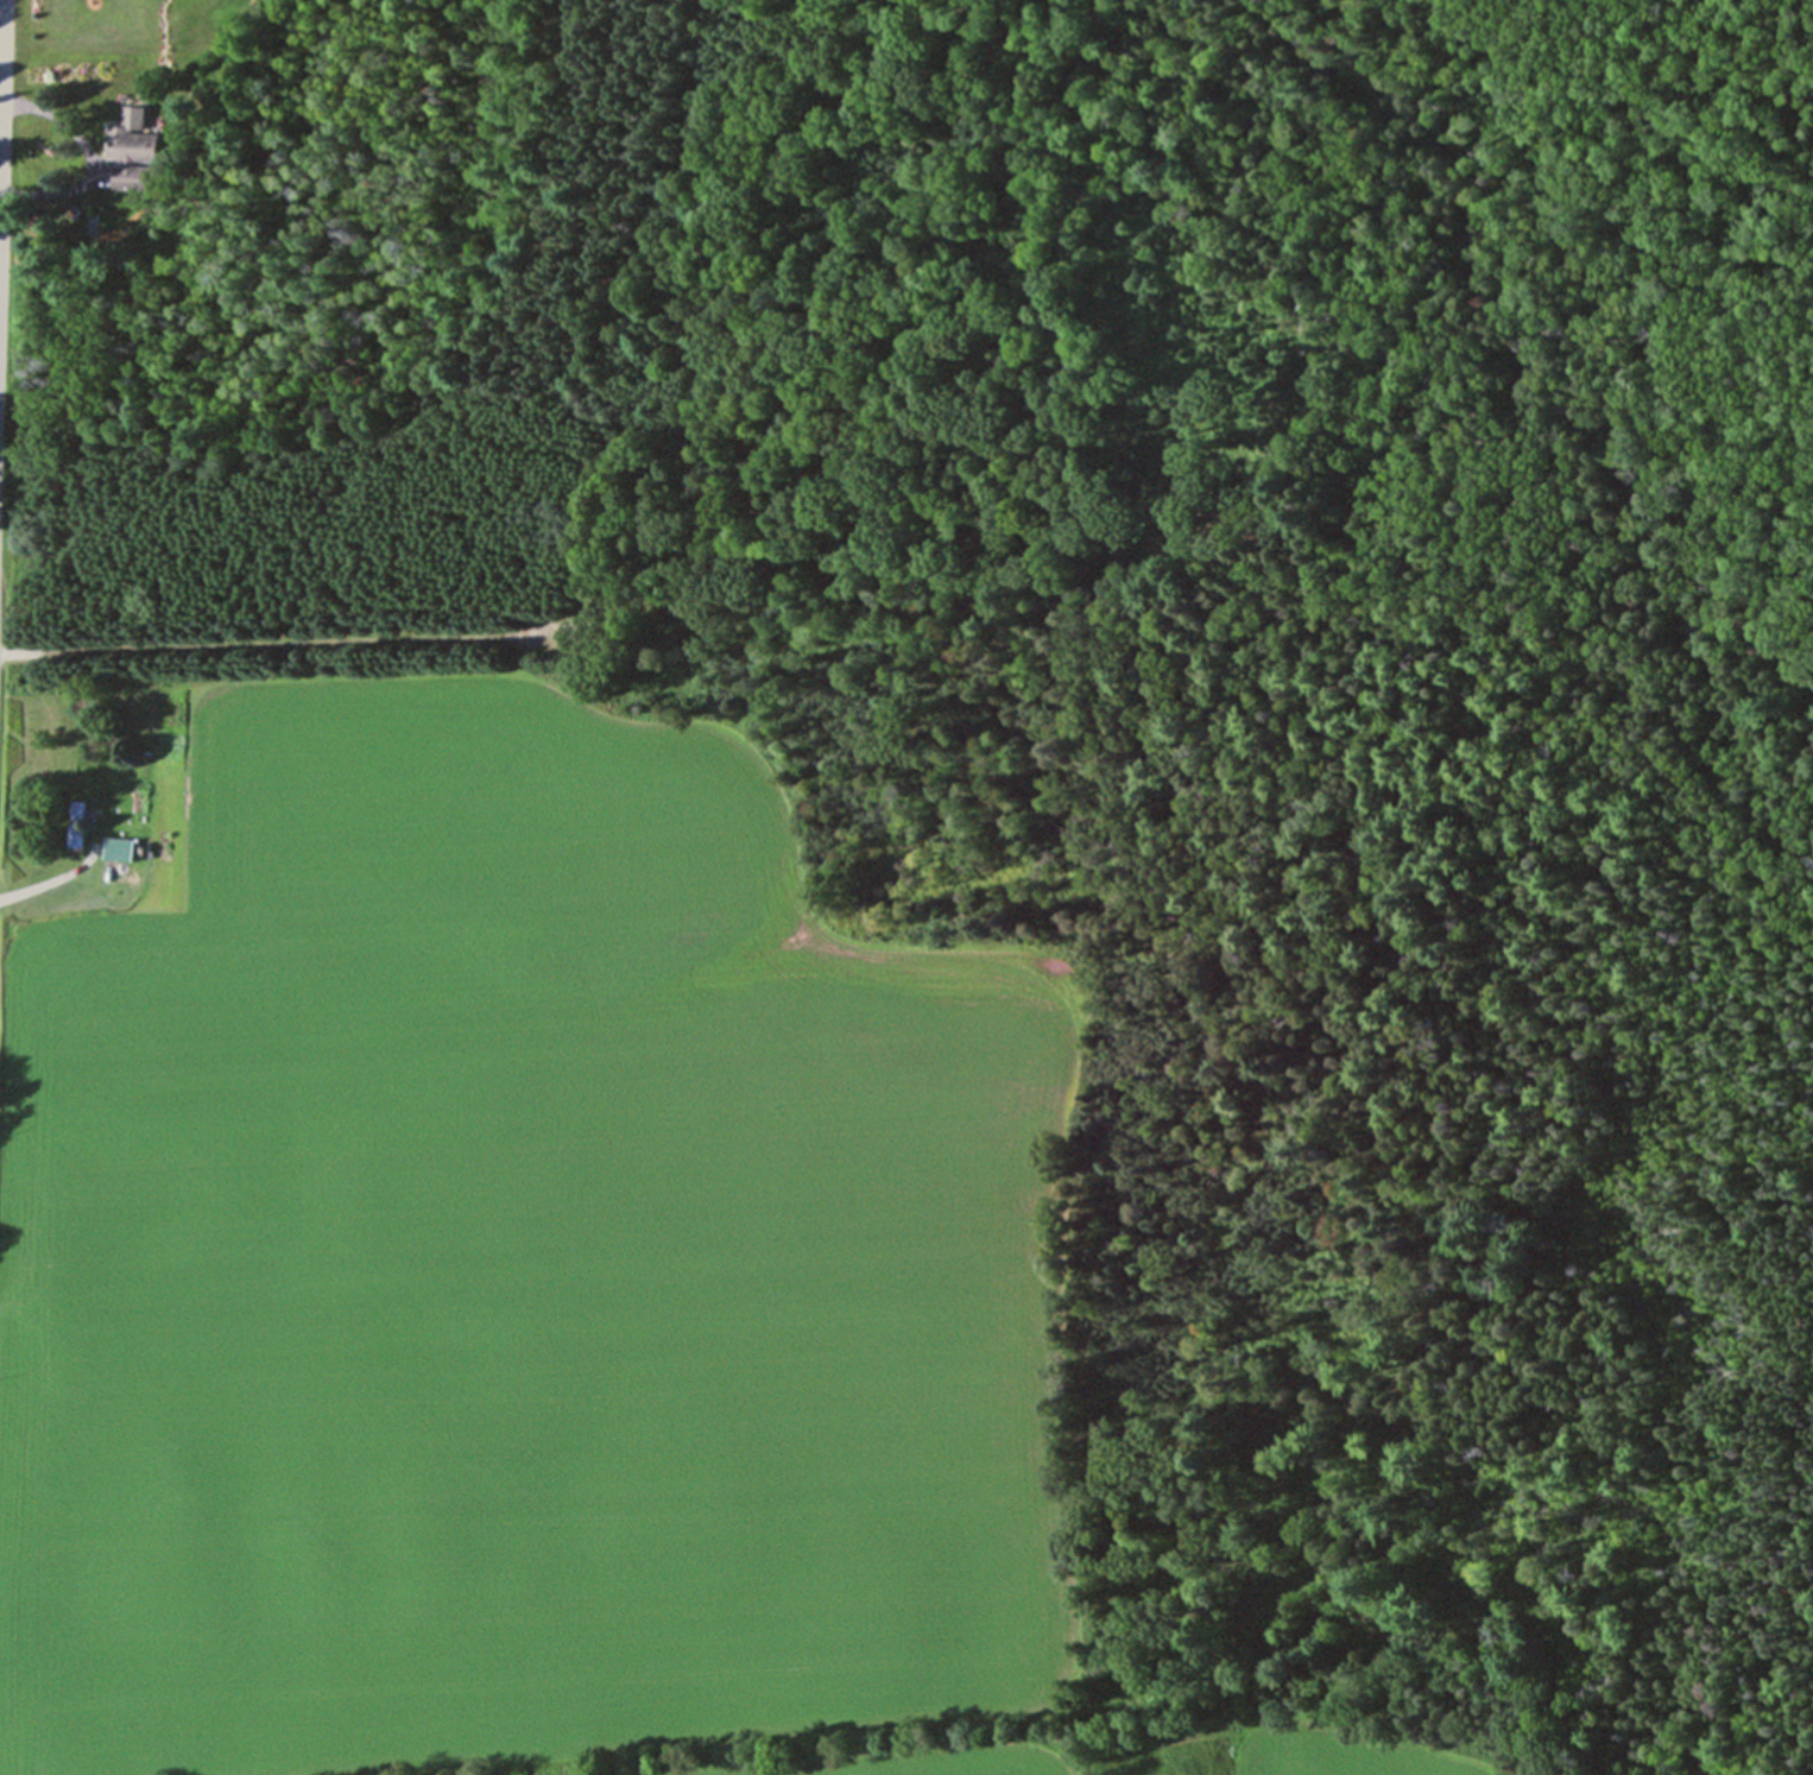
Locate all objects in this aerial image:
road: (2, 99)
road: (1, 131)
building: (135, 152)
road: (272, 645)
building: (77, 829)
road: (39, 884)

